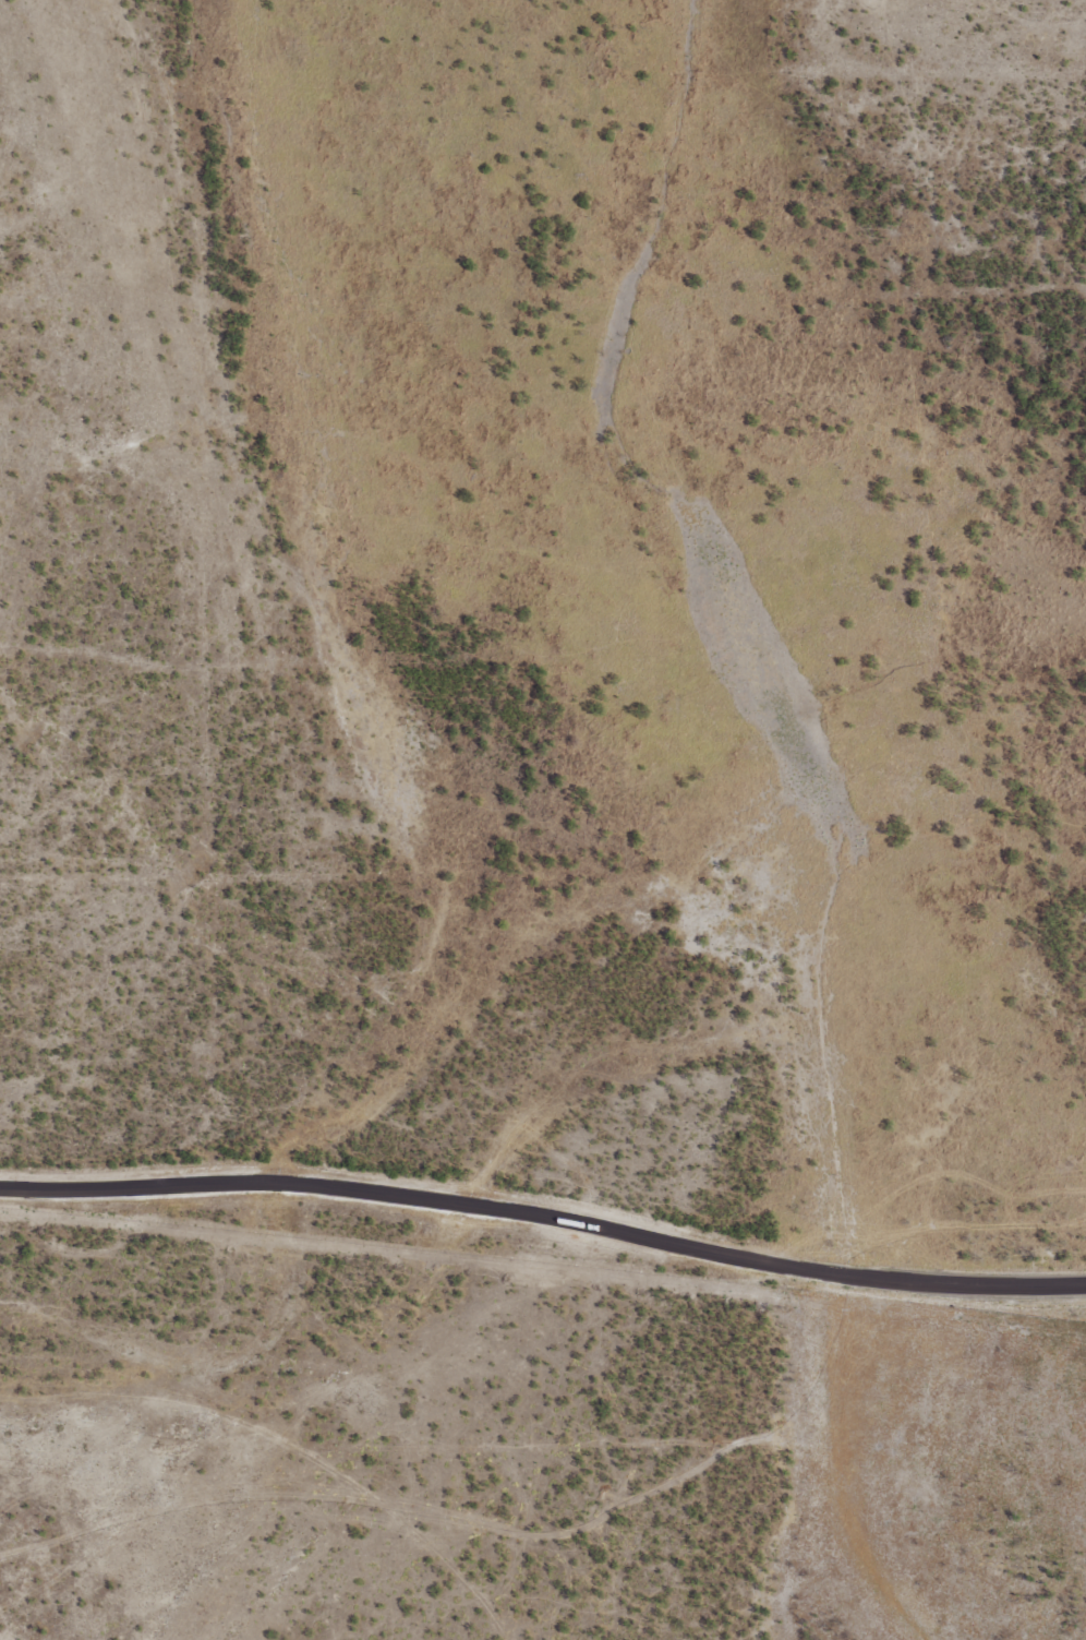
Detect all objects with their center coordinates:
road: (545, 1209)
road: (268, 1469)

